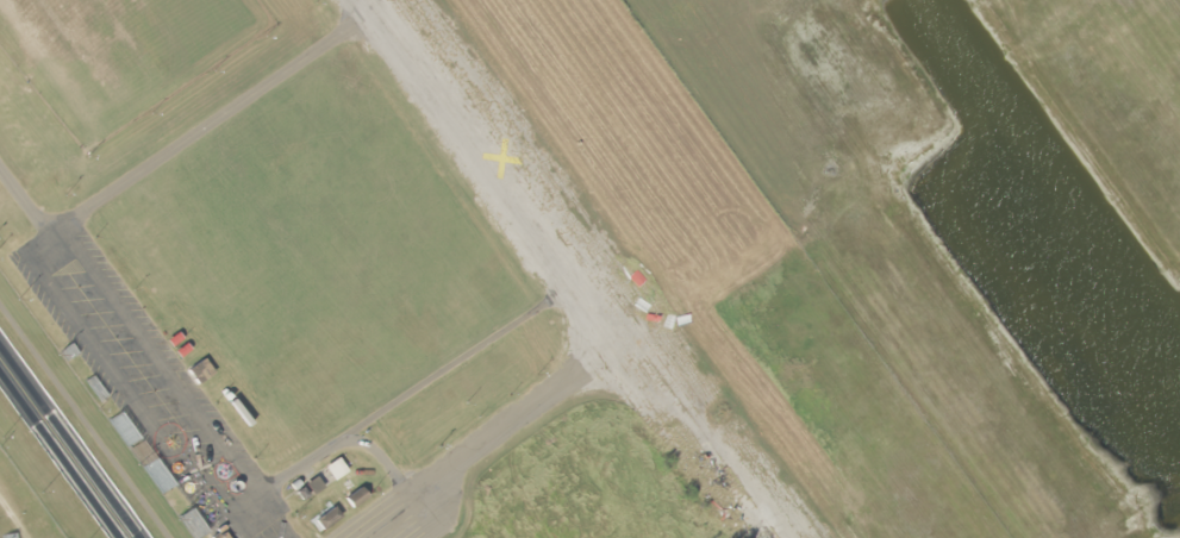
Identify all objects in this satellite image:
road: (14, 206)
airport: (982, 219)
road: (579, 269)
building: (194, 371)
parking lot: (141, 384)
raceway: (60, 453)
building: (329, 470)
building: (5, 480)
building: (311, 484)
building: (351, 496)
building: (324, 517)

